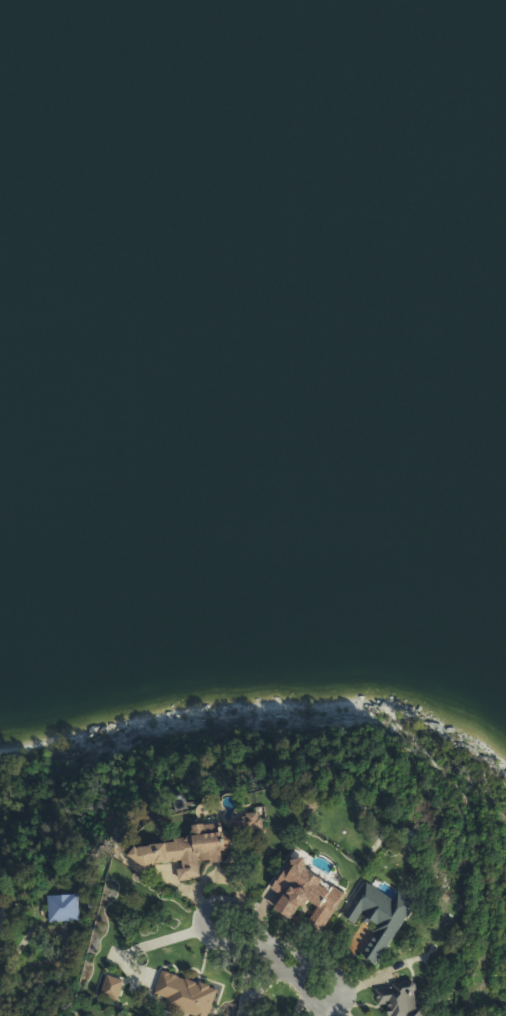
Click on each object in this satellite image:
building: (212, 846)
building: (383, 917)
road: (61, 930)
road: (251, 943)
road: (276, 965)
road: (2, 970)
building: (189, 995)
building: (403, 999)

